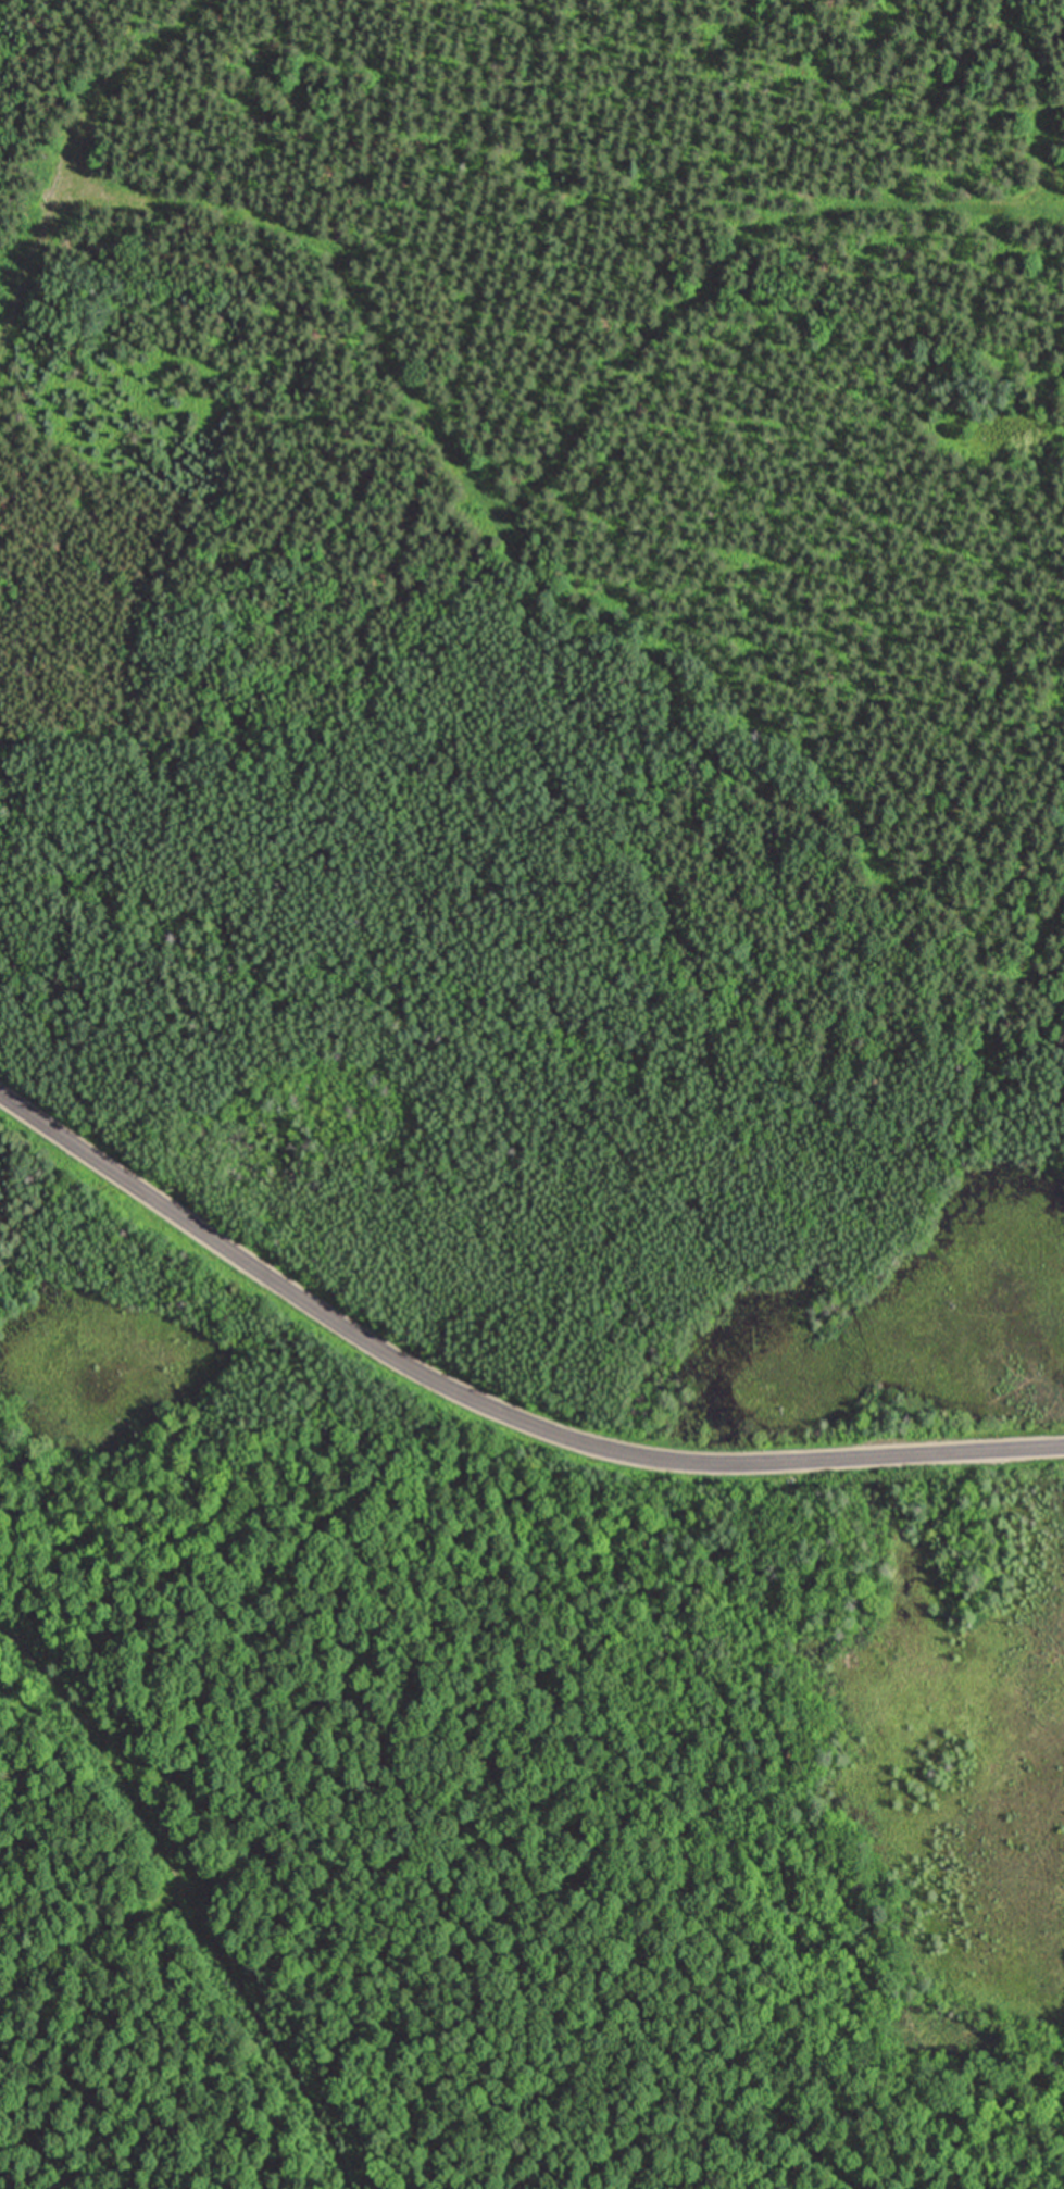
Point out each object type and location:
road: (74, 155)
road: (541, 470)
road: (489, 1408)
road: (189, 1898)
road: (87, 1932)

